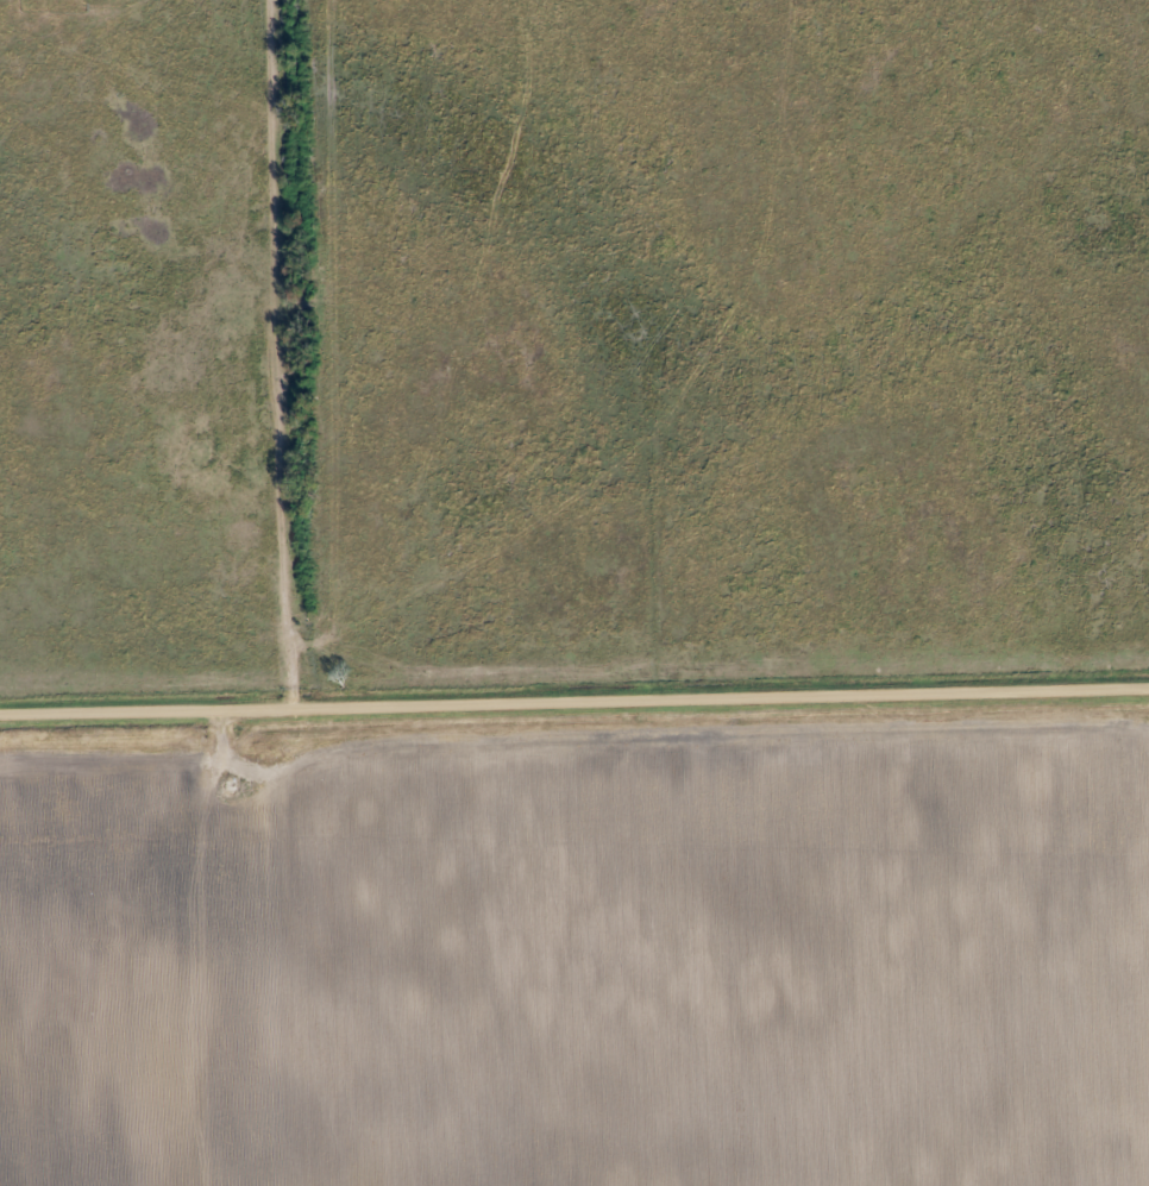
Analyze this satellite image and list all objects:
road: (275, 352)
road: (574, 698)

